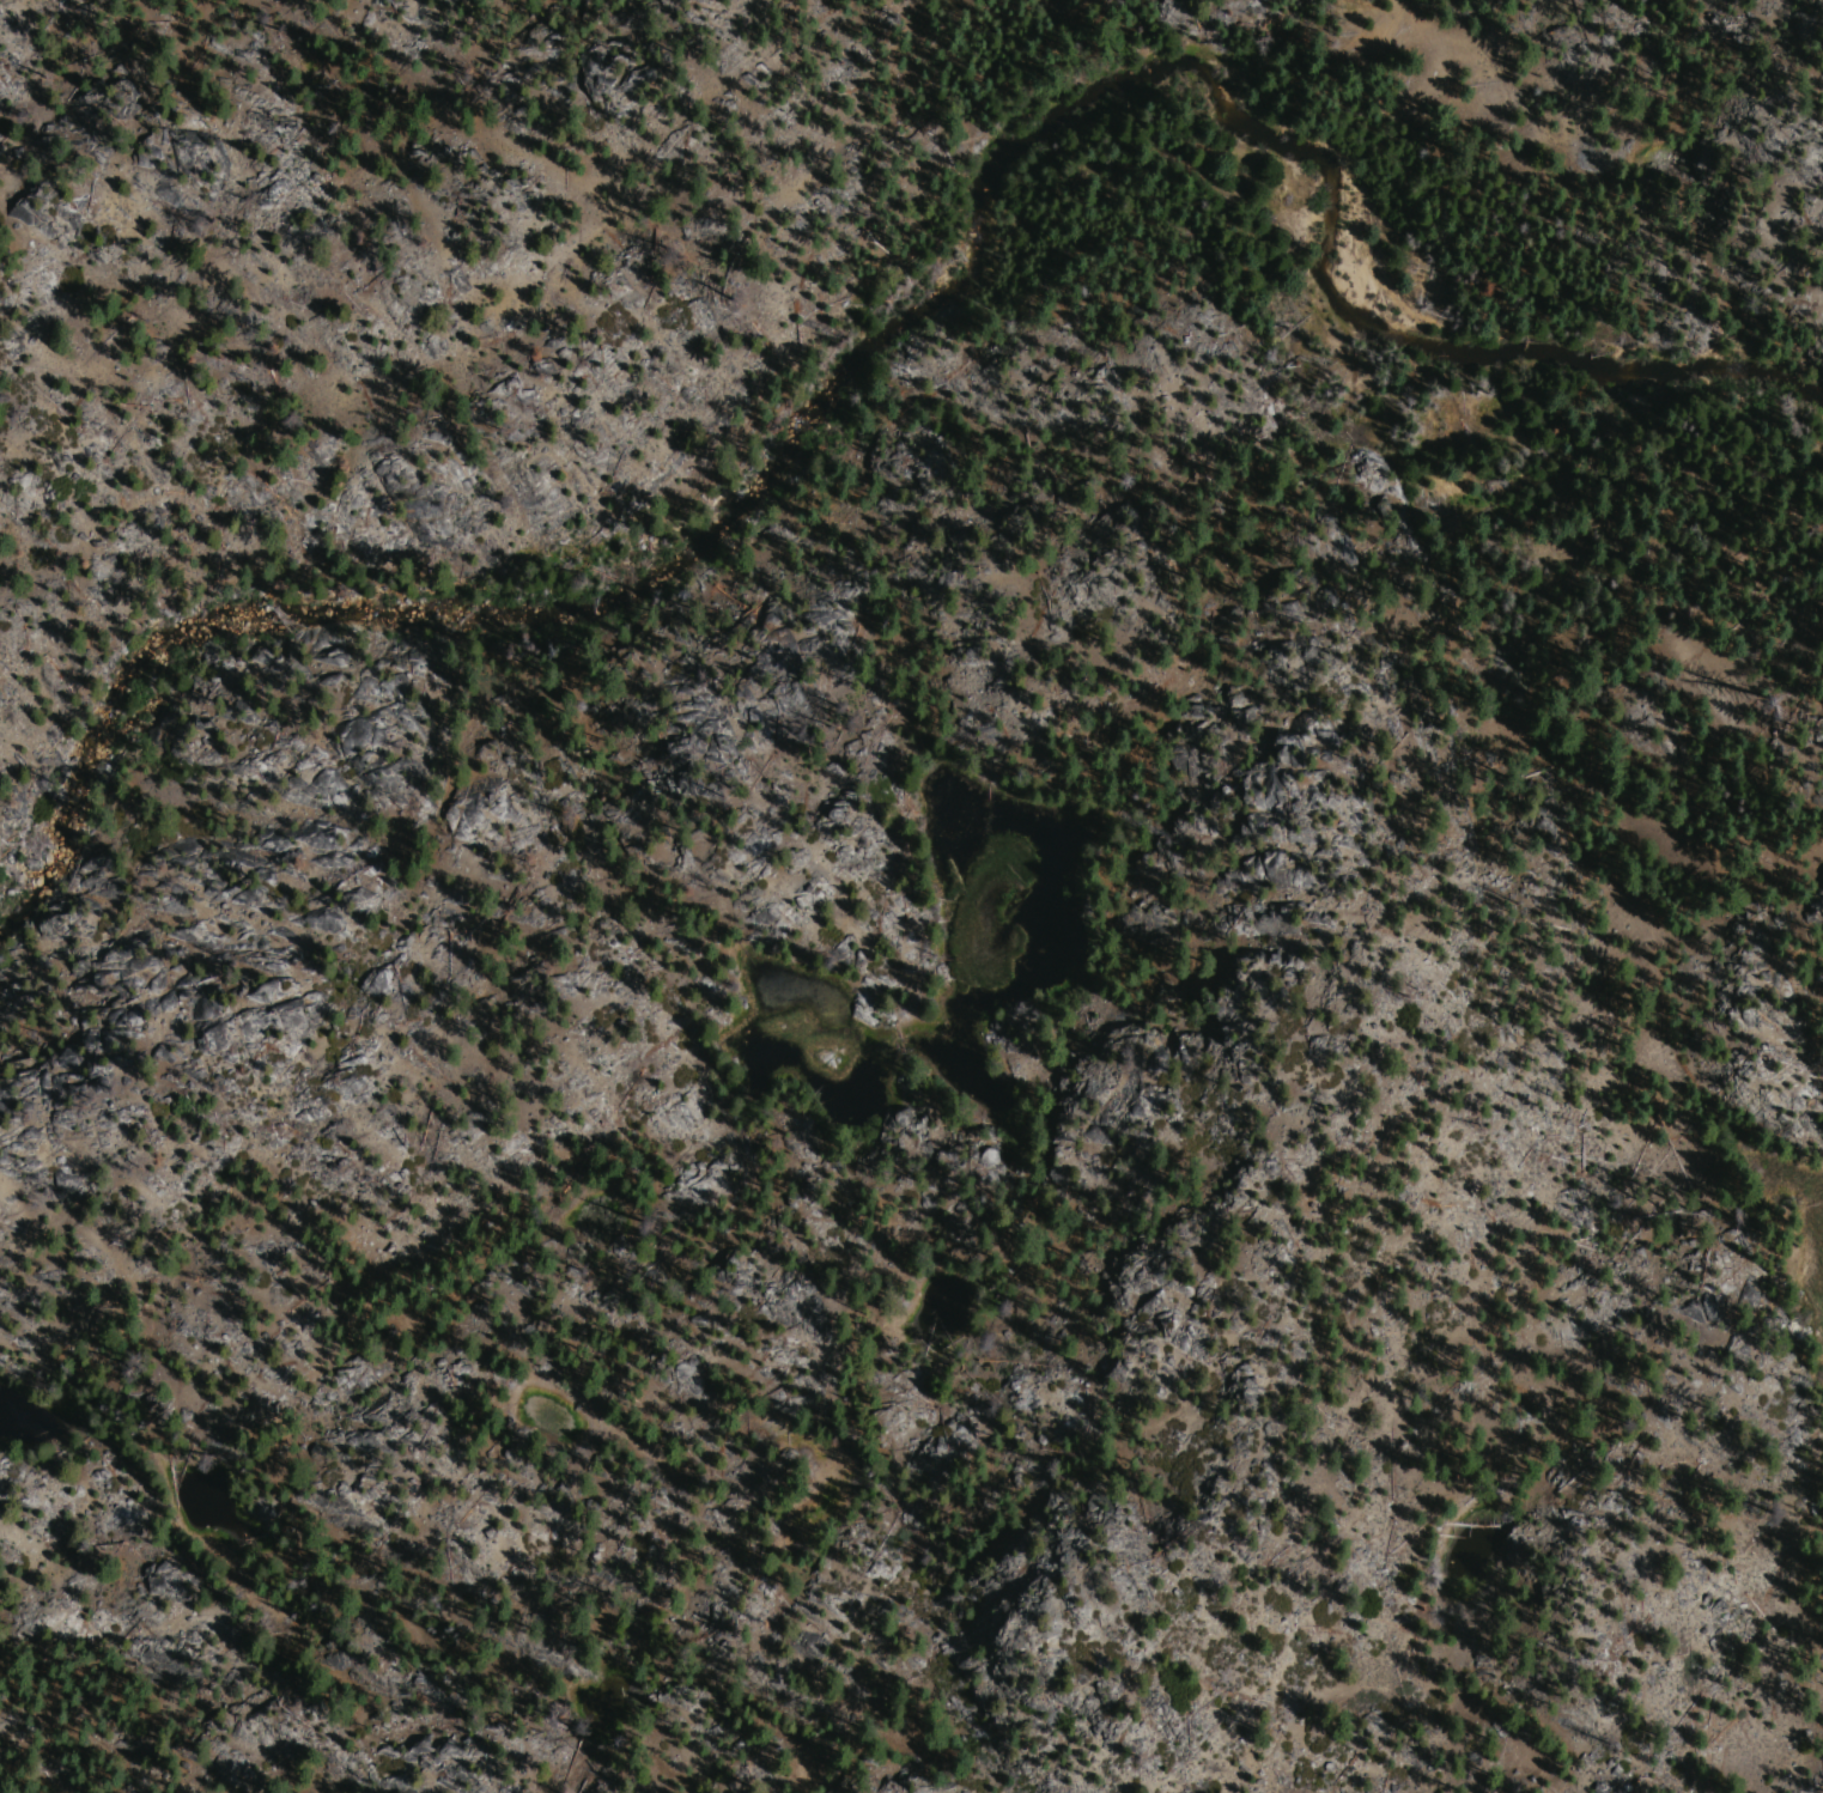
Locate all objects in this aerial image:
road: (227, 1719)
road: (609, 1750)

